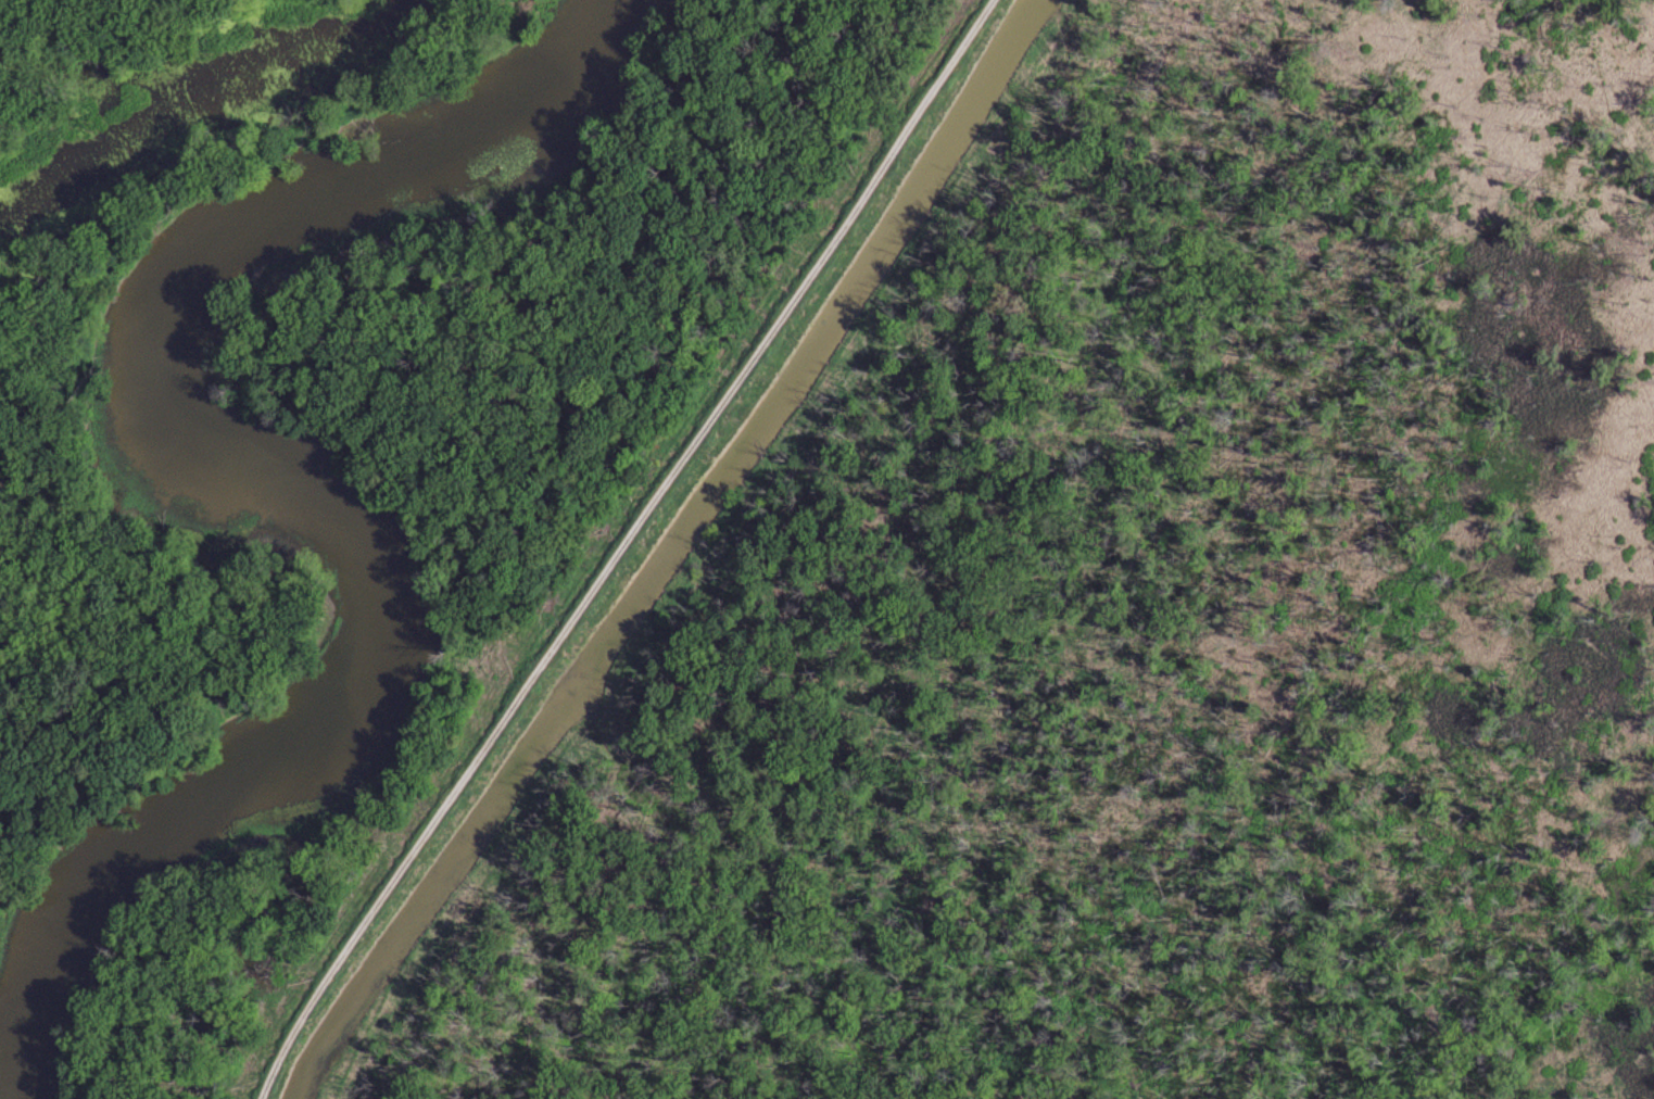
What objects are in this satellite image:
river: (302, 519)
road: (611, 544)

